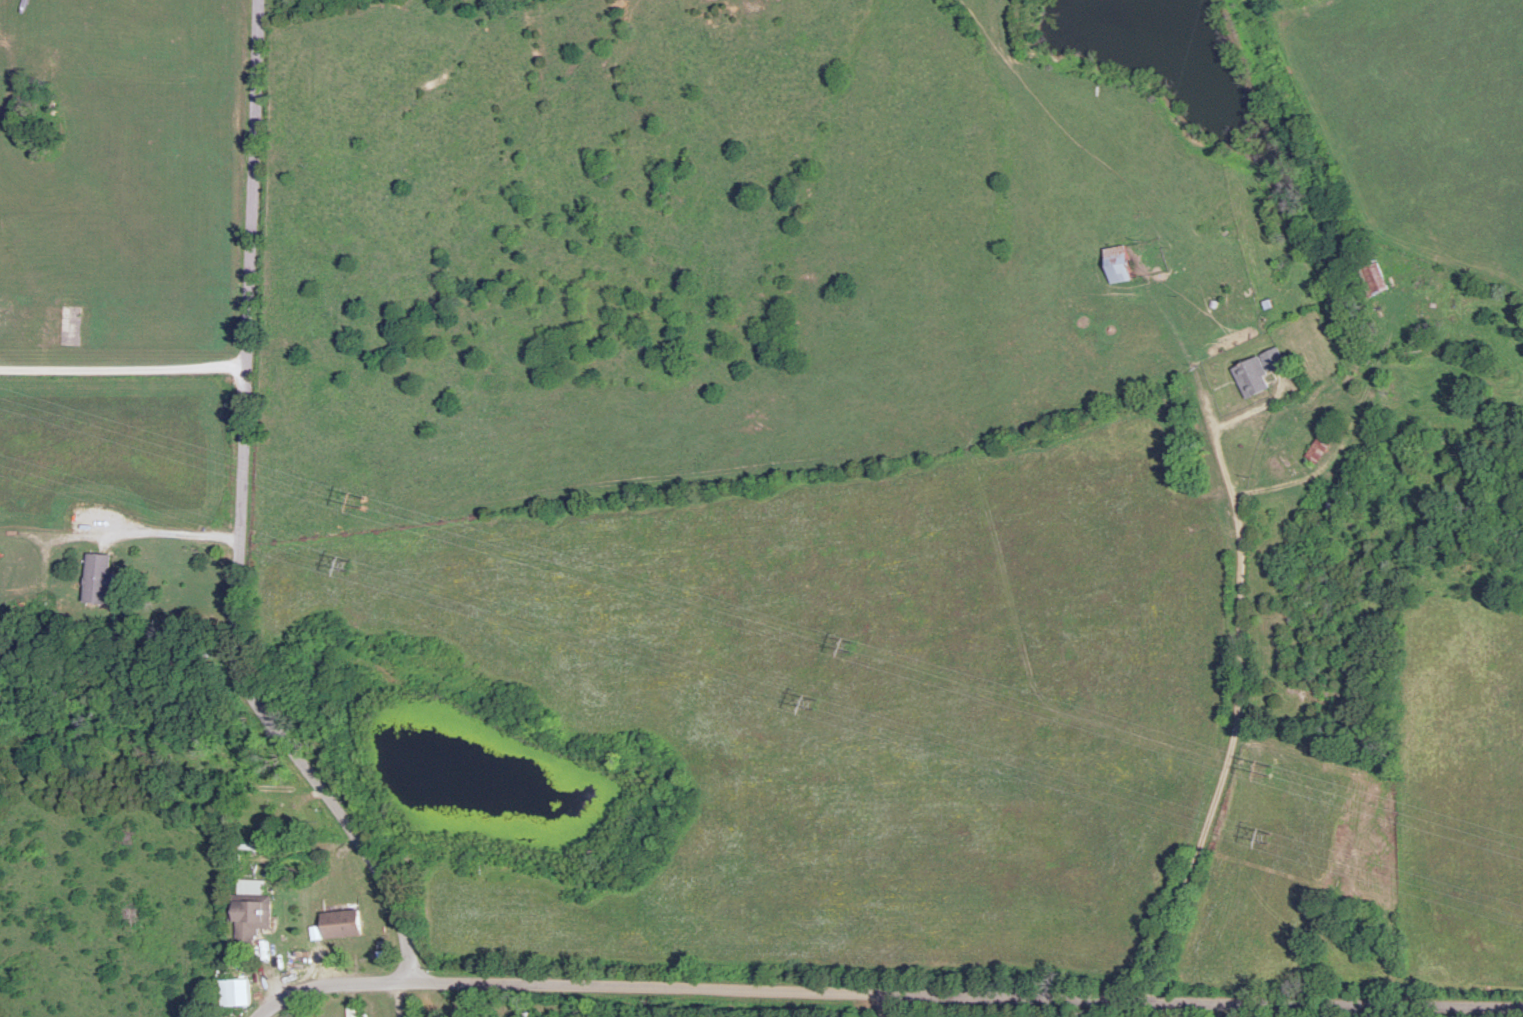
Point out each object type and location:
building: (1119, 262)
building: (1372, 276)
road: (123, 370)
building: (1257, 371)
building: (1320, 444)
power tower: (368, 501)
road: (241, 516)
road: (163, 536)
power tower: (348, 564)
building: (100, 577)
power tower: (851, 643)
power tower: (816, 700)
power tower: (1266, 768)
building: (276, 787)
power tower: (1265, 835)
building: (253, 912)
building: (346, 923)
road: (897, 990)
building: (237, 991)
road: (882, 1003)
building: (487, 1012)
building: (530, 1014)

